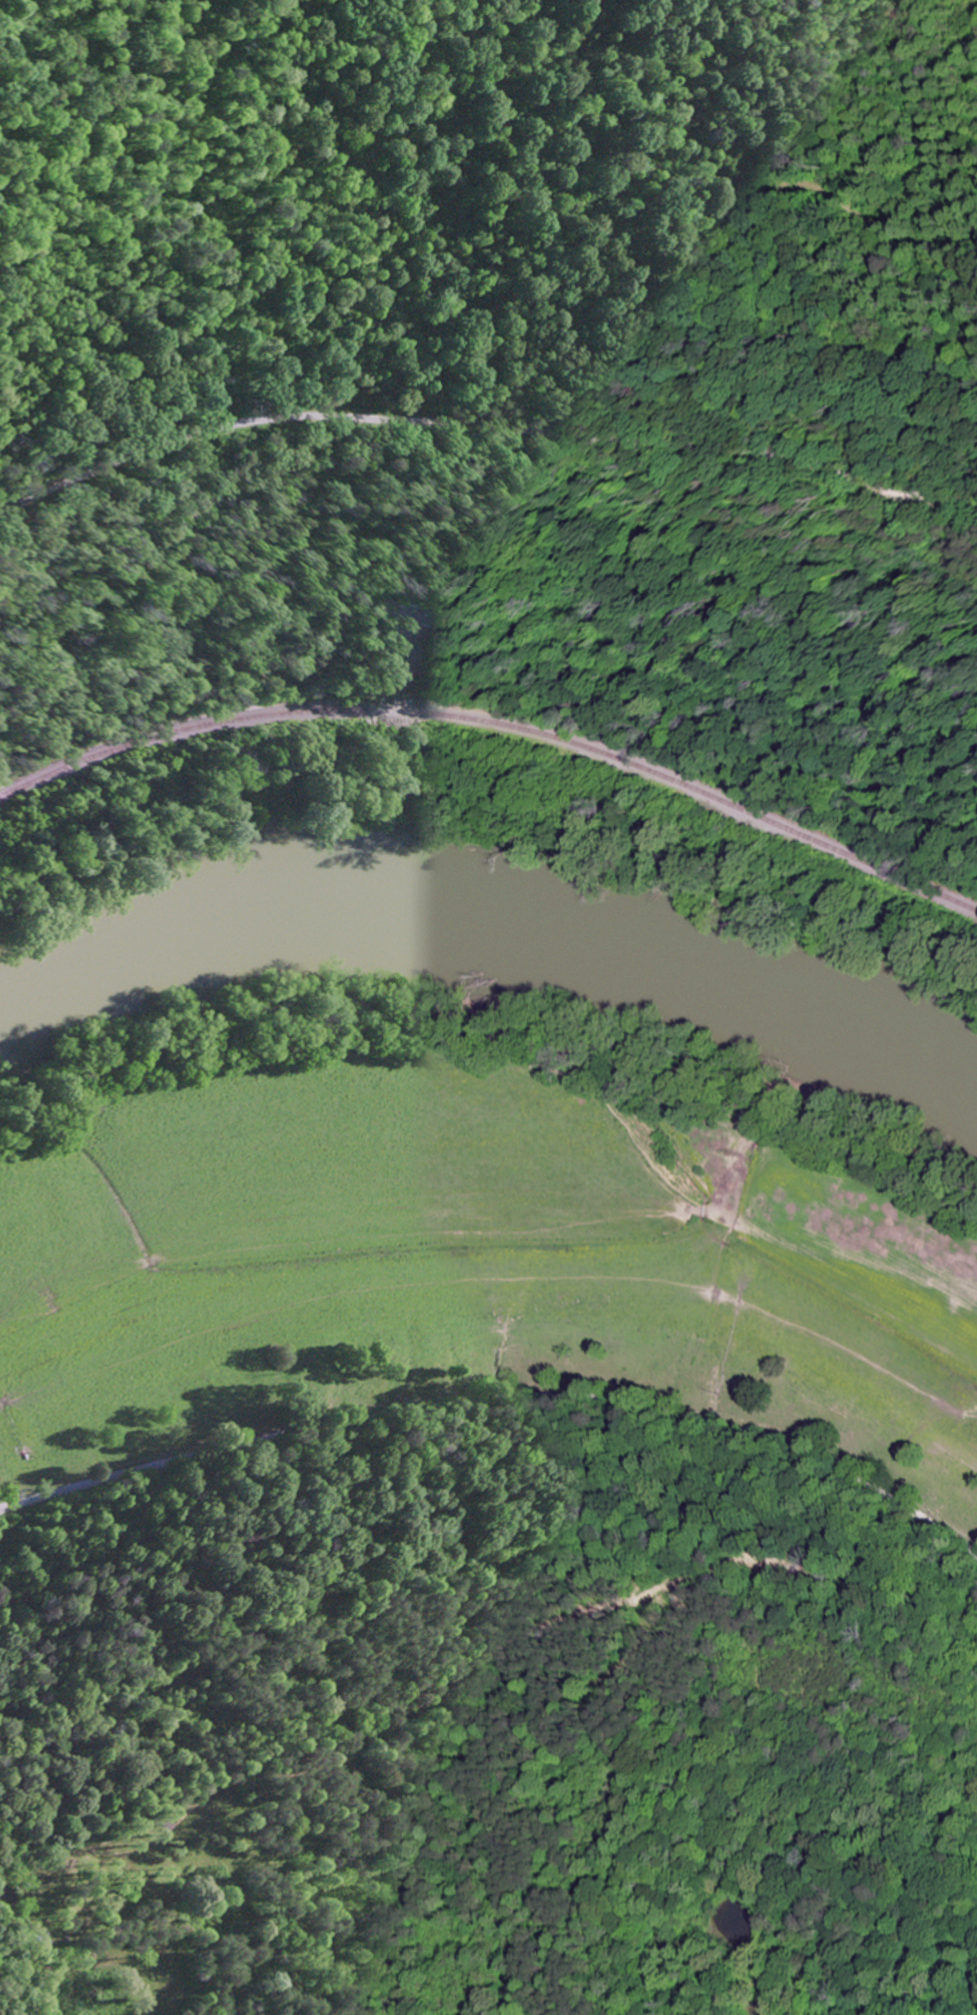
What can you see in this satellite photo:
road: (565, 180)
road: (484, 424)
railway: (493, 712)
river: (497, 919)
road: (499, 1404)

